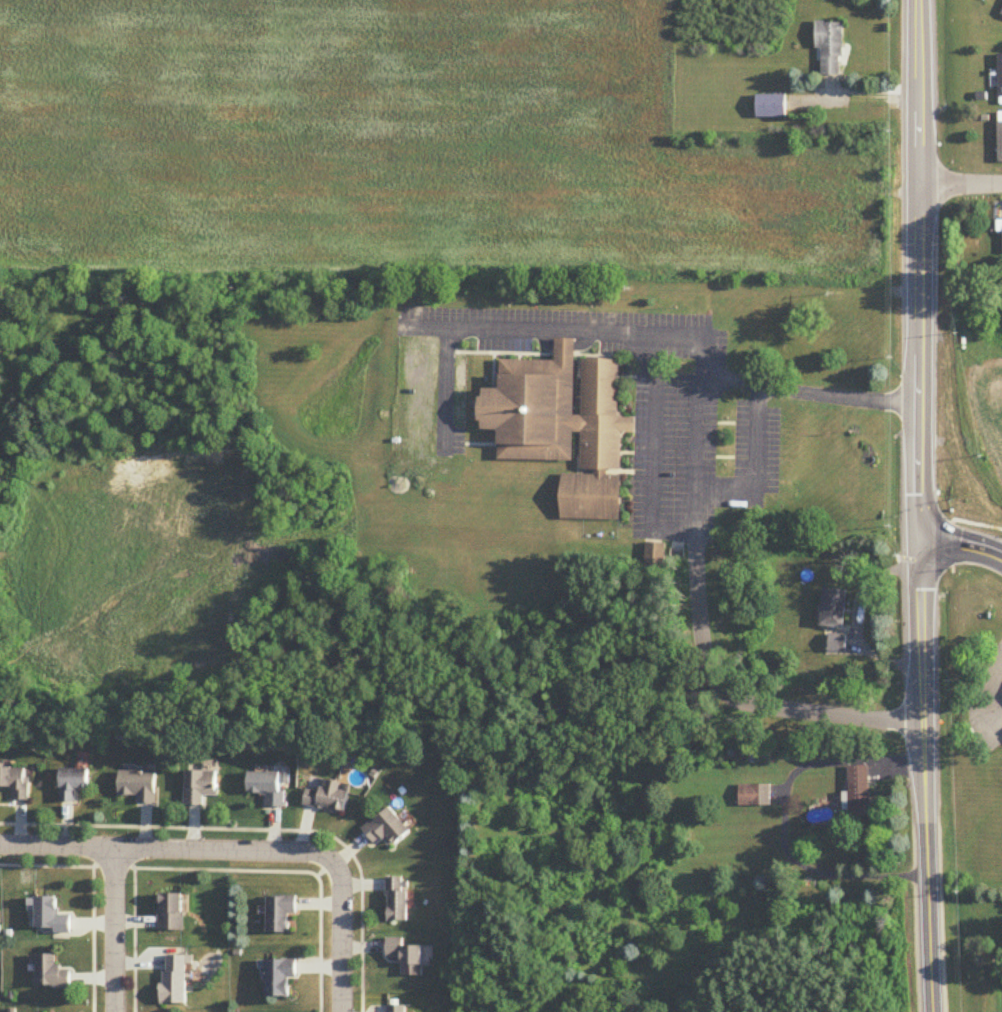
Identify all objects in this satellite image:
building: (1001, 12)
building: (830, 48)
building: (771, 106)
road: (961, 186)
road: (920, 271)
road: (494, 326)
parking lot: (642, 409)
road: (653, 410)
building: (568, 425)
road: (698, 428)
road: (963, 546)
building: (655, 555)
building: (833, 608)
road: (860, 618)
building: (837, 643)
road: (1001, 682)
building: (1001, 693)
road: (739, 701)
road: (996, 704)
road: (925, 777)
building: (16, 783)
building: (73, 785)
building: (139, 786)
building: (200, 787)
building: (267, 788)
building: (858, 794)
building: (755, 796)
building: (328, 798)
building: (387, 830)
road: (221, 851)
road: (57, 852)
building: (398, 901)
building: (171, 913)
building: (281, 915)
building: (52, 918)
road: (114, 932)
road: (341, 935)
building: (406, 958)
building: (51, 975)
building: (280, 978)
building: (175, 981)
building: (396, 1009)

